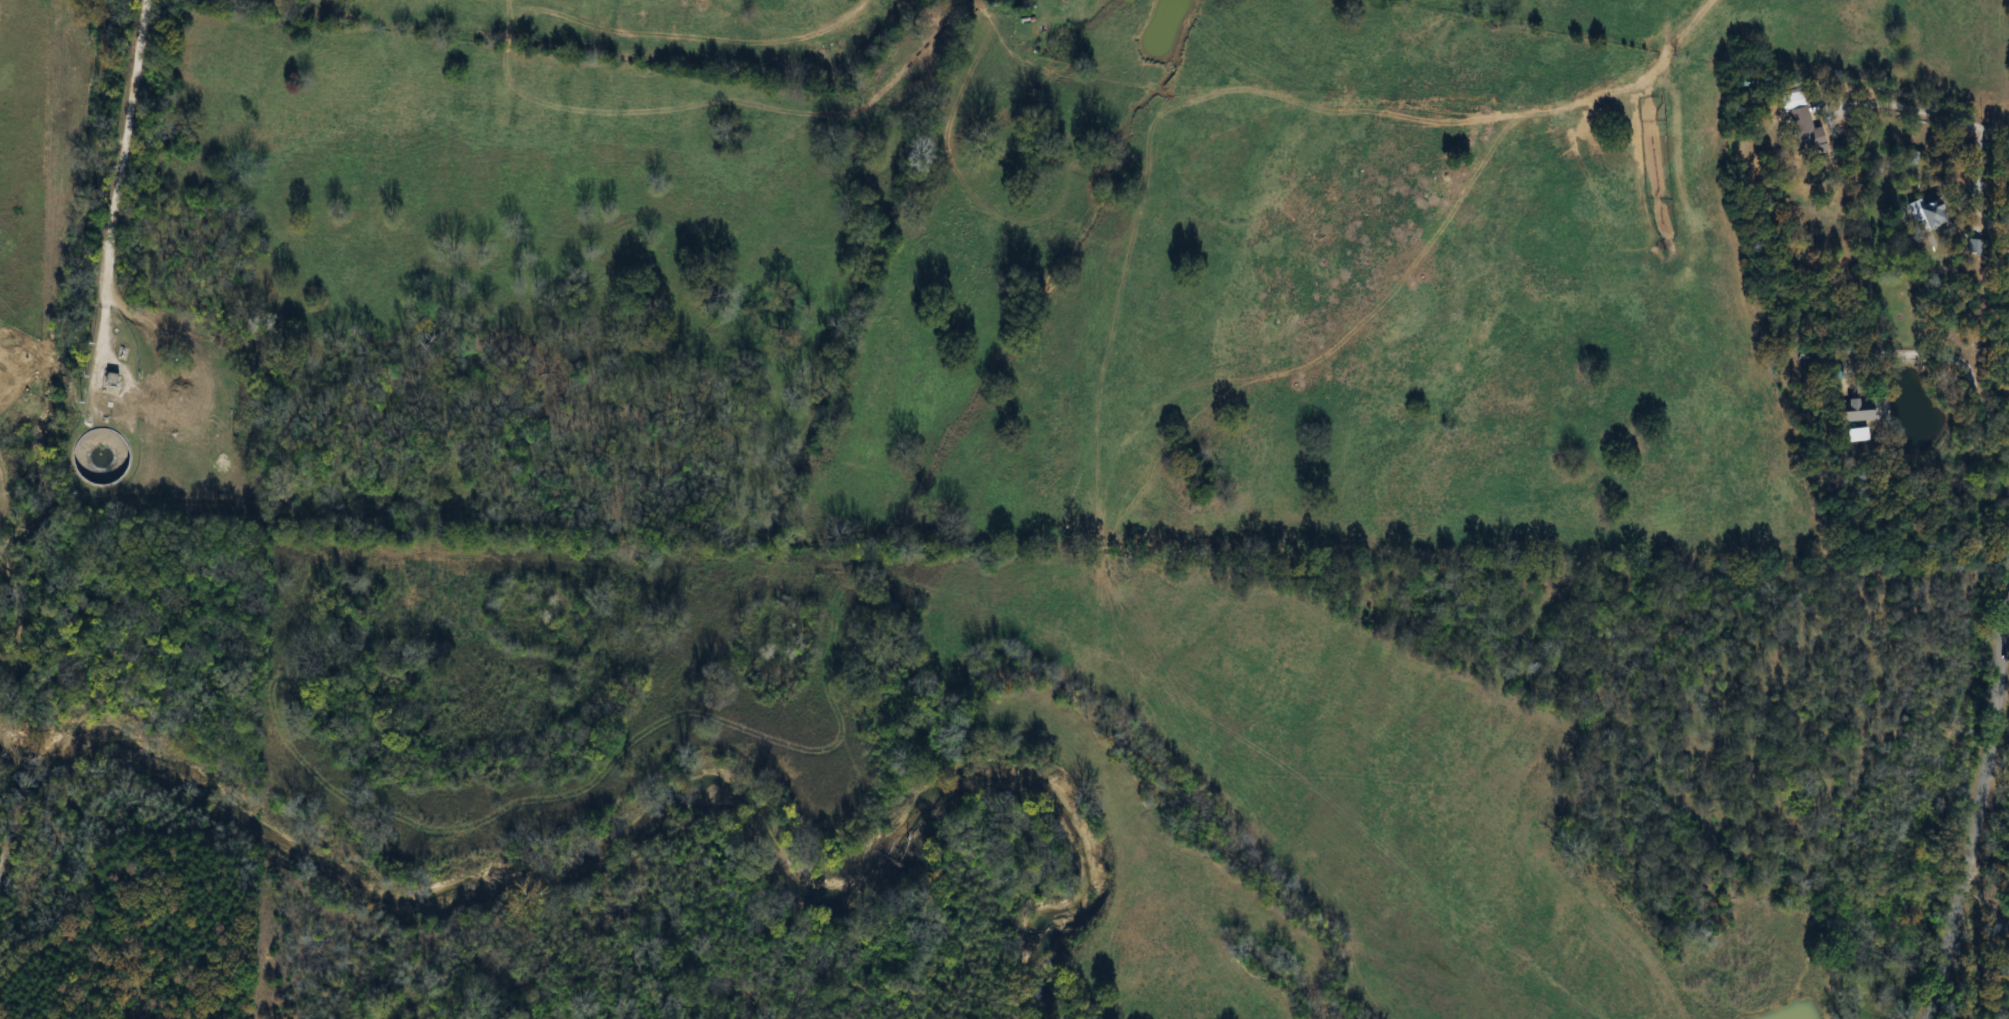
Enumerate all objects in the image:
road: (1929, 110)
building: (1800, 126)
road: (1976, 176)
road: (117, 177)
building: (1925, 215)
road: (1943, 352)
road: (116, 402)
building: (1854, 411)
building: (1859, 436)
road: (1982, 860)

